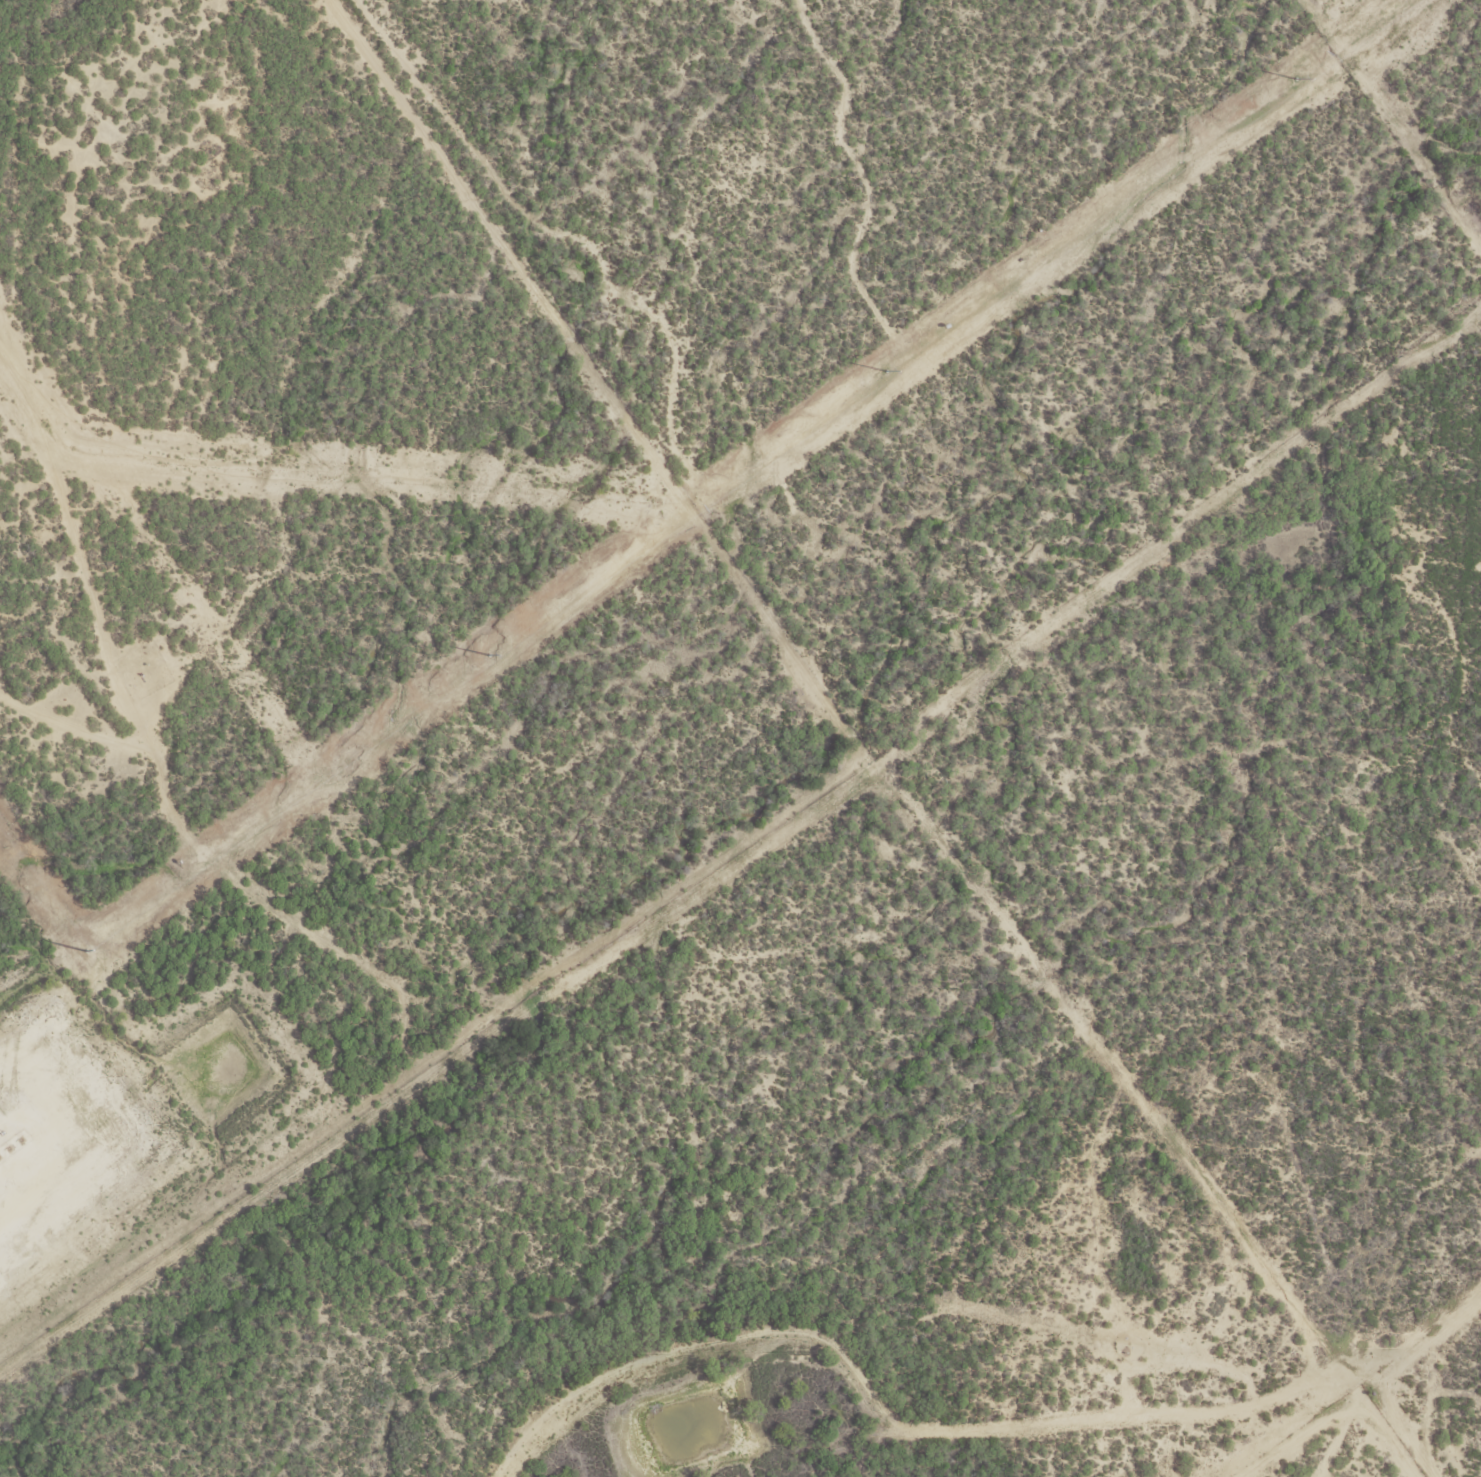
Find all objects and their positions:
road: (14, 16)
power tower: (1296, 79)
power tower: (887, 372)
road: (221, 398)
power tower: (489, 655)
power tower: (86, 951)
road: (1396, 1304)
road: (1278, 1414)

